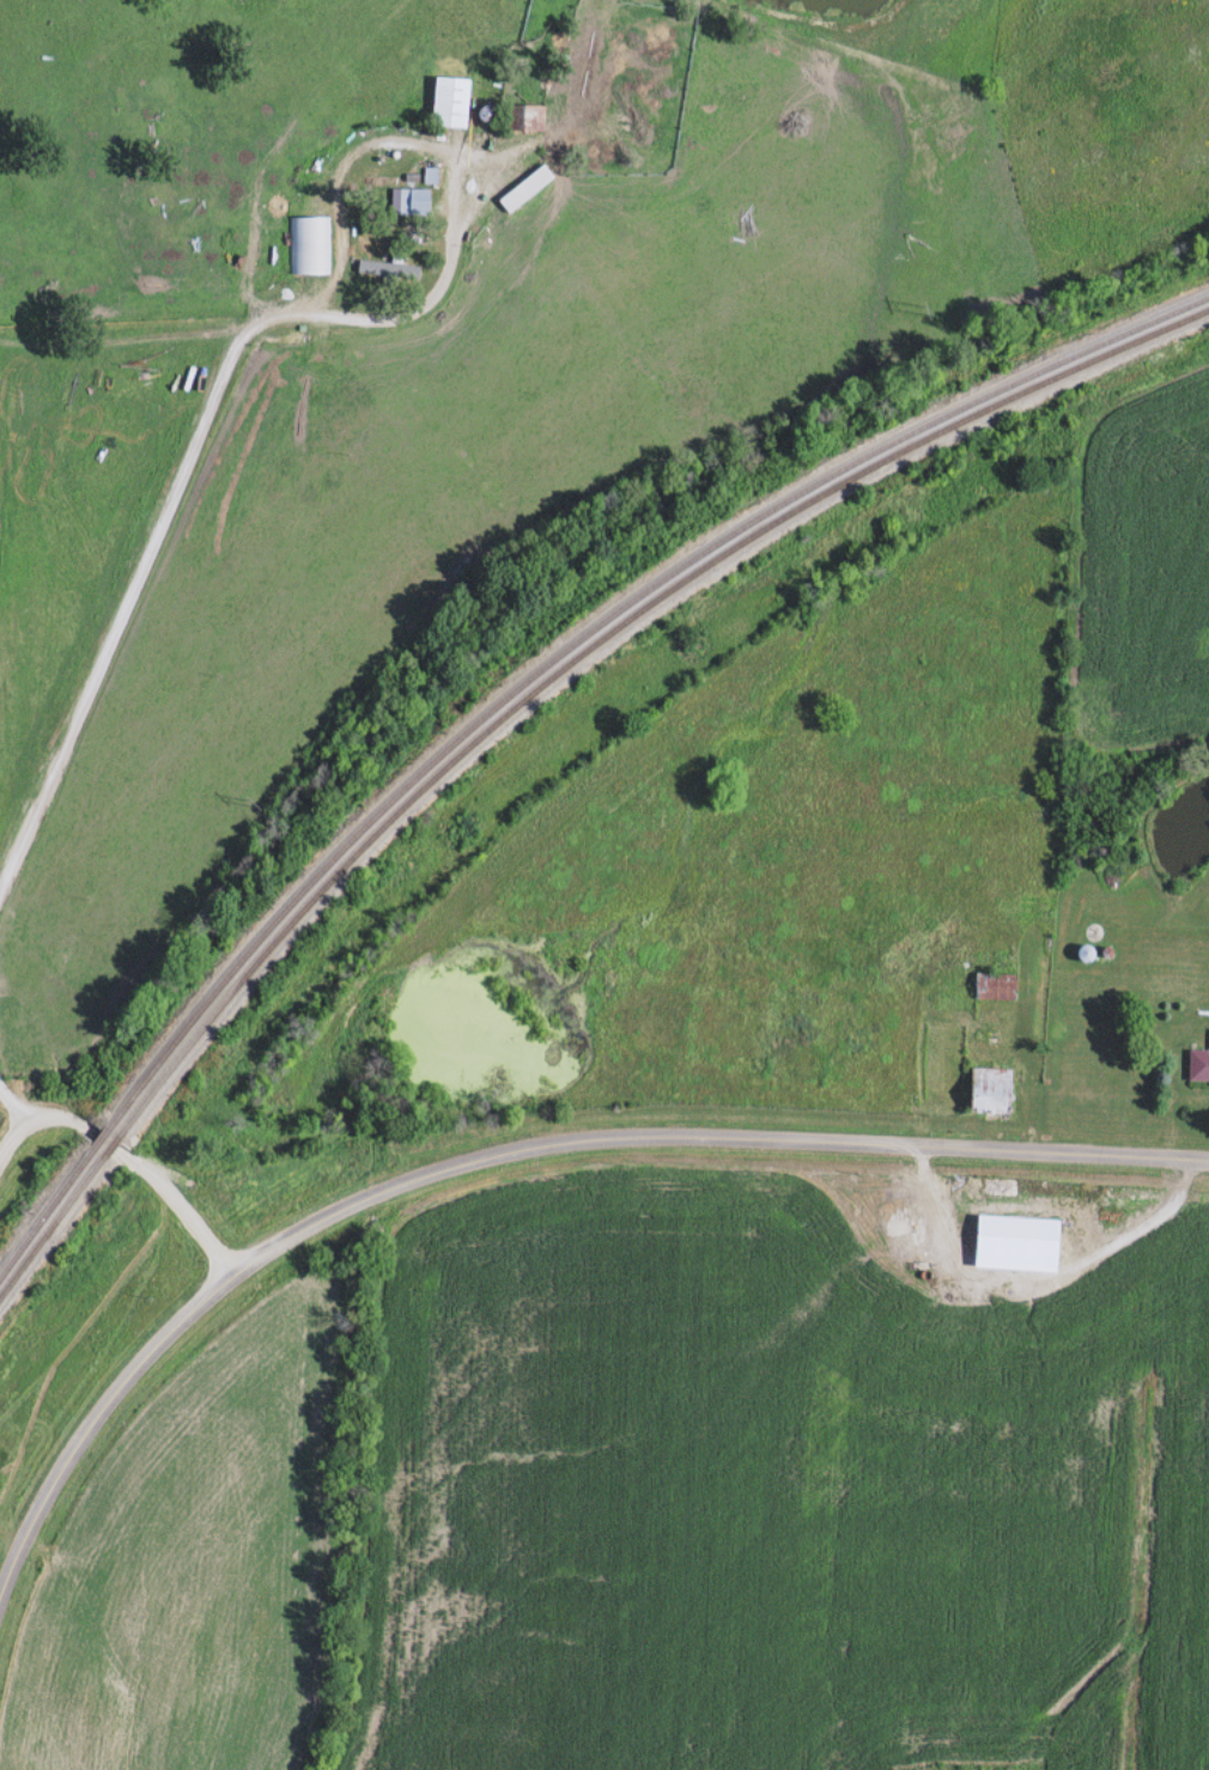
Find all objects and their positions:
building: (443, 102)
building: (518, 117)
building: (518, 188)
building: (412, 201)
building: (306, 244)
building: (383, 269)
road: (198, 440)
railway: (521, 680)
railway: (522, 698)
building: (1079, 953)
building: (989, 985)
building: (1196, 1063)
building: (982, 1090)
road: (13, 1106)
road: (40, 1121)
road: (505, 1146)
road: (176, 1202)
building: (916, 1234)
building: (995, 1234)
road: (1038, 1275)

